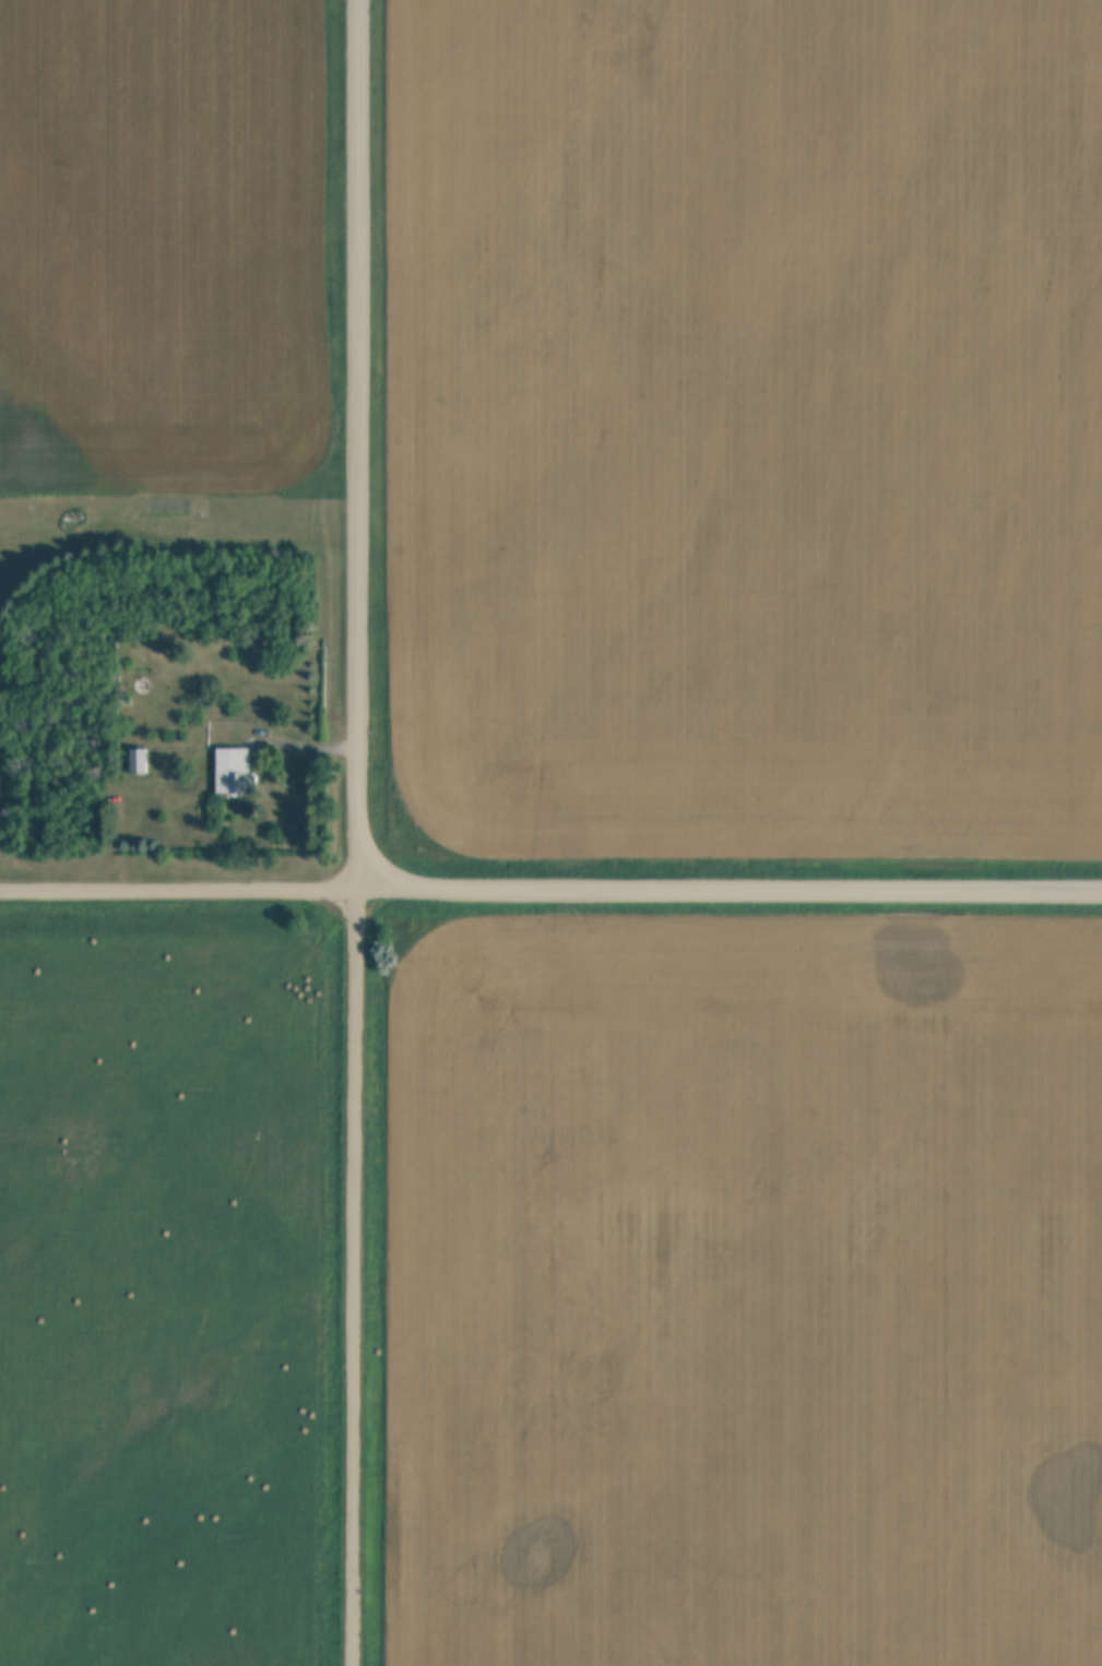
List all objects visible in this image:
road: (363, 443)
building: (139, 761)
building: (235, 773)
road: (550, 885)
road: (357, 1275)

